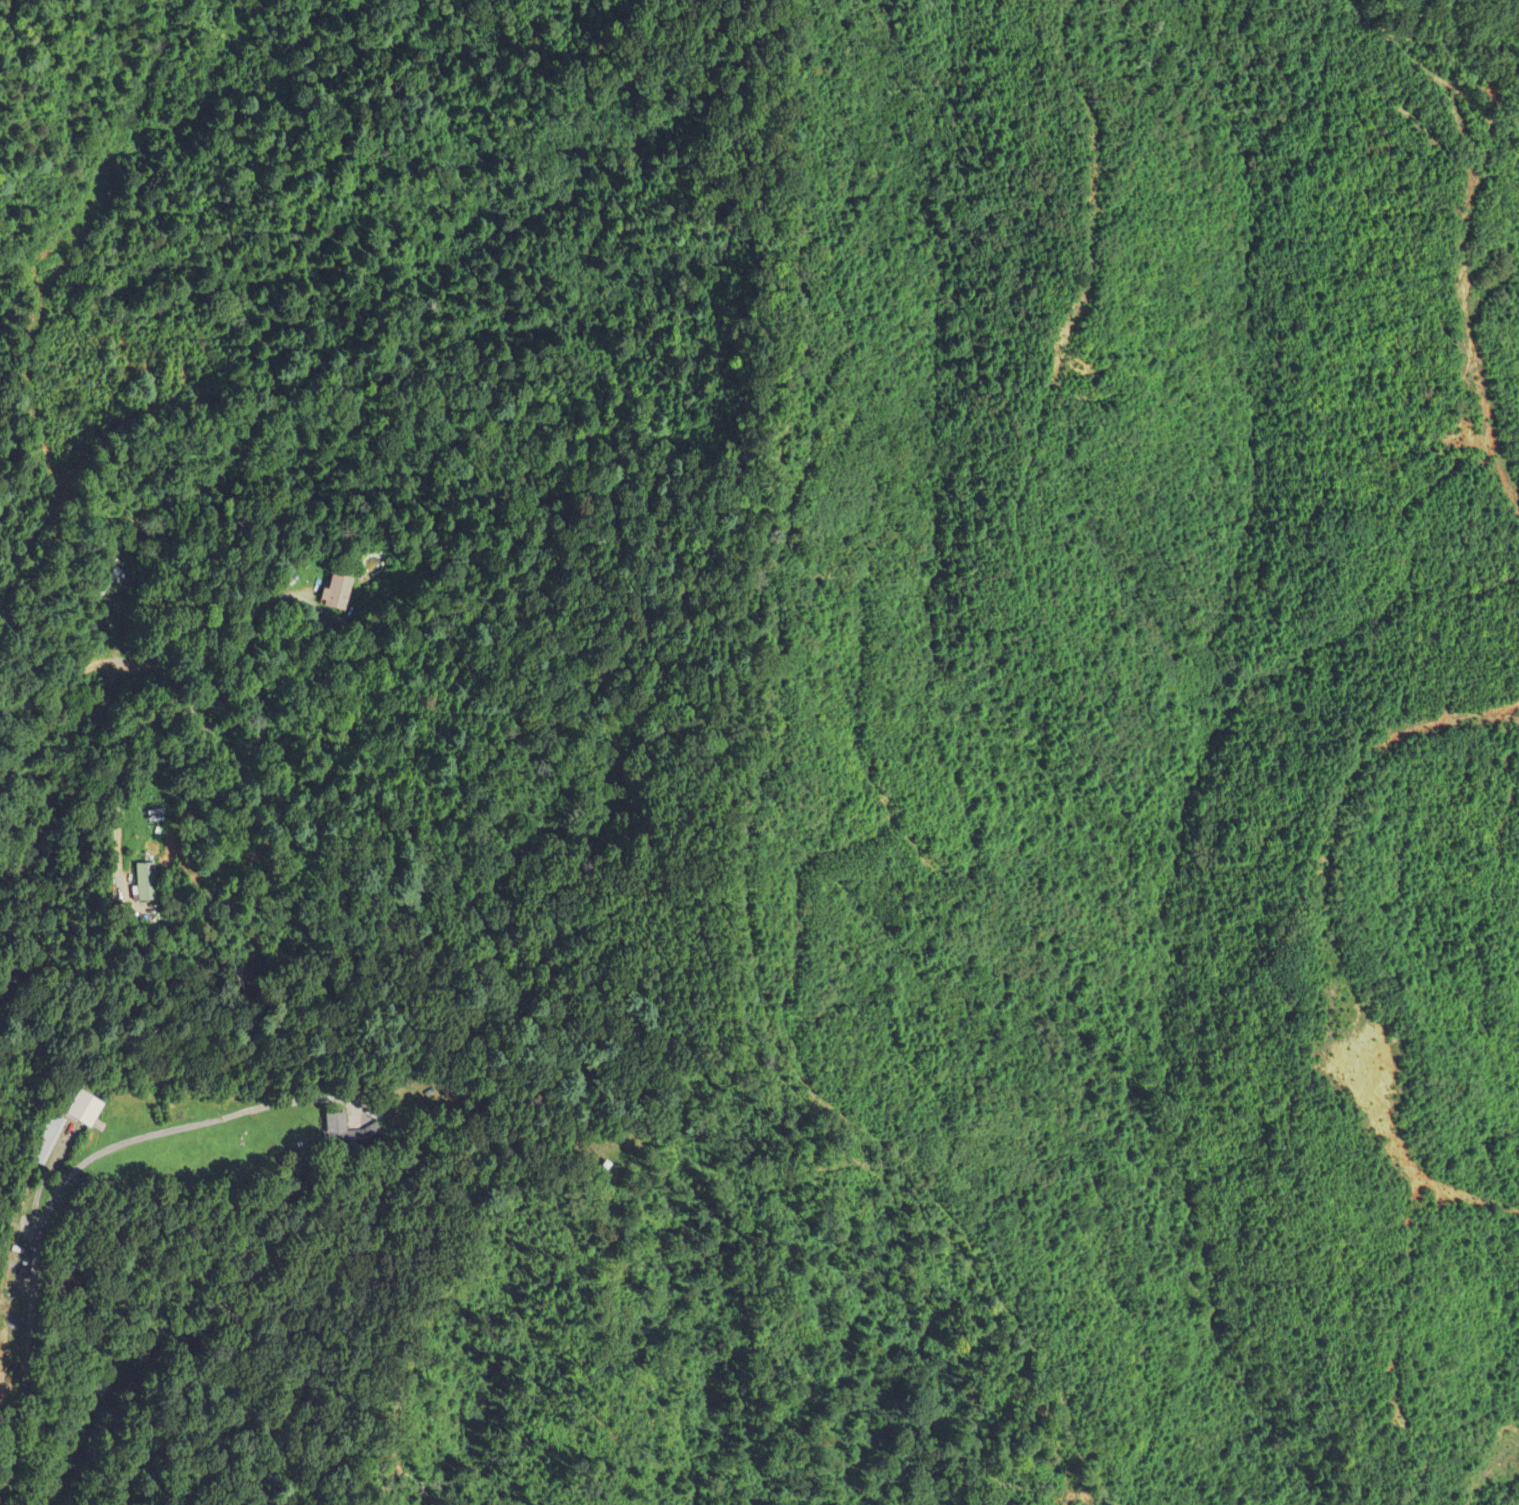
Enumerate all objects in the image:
building: (115, 574)
building: (335, 592)
road: (61, 705)
road: (255, 738)
road: (64, 772)
road: (116, 777)
building: (151, 884)
building: (358, 1138)
building: (49, 1141)
road: (61, 1182)
building: (11, 1369)

